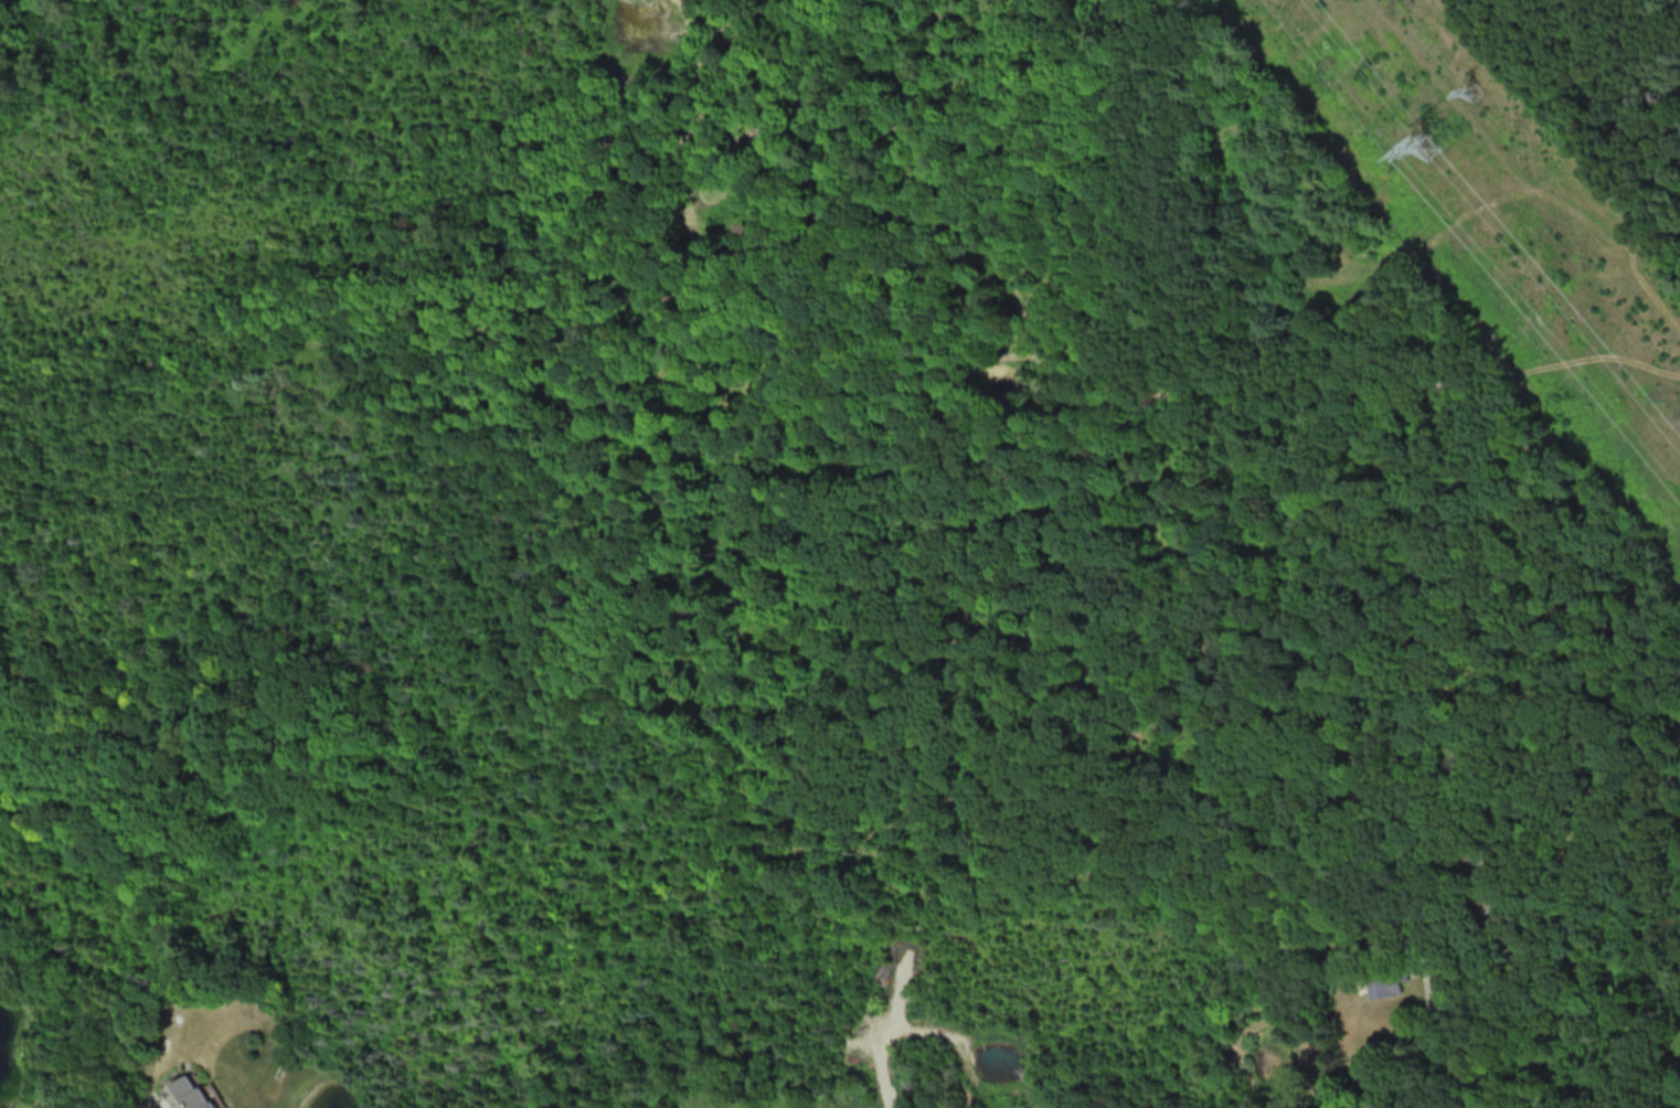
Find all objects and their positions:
power tower: (1474, 90)
power tower: (1429, 145)
building: (1469, 785)
building: (1486, 873)
building: (1513, 924)
building: (1528, 953)
building: (1389, 984)
building: (193, 1091)
road: (149, 1107)

